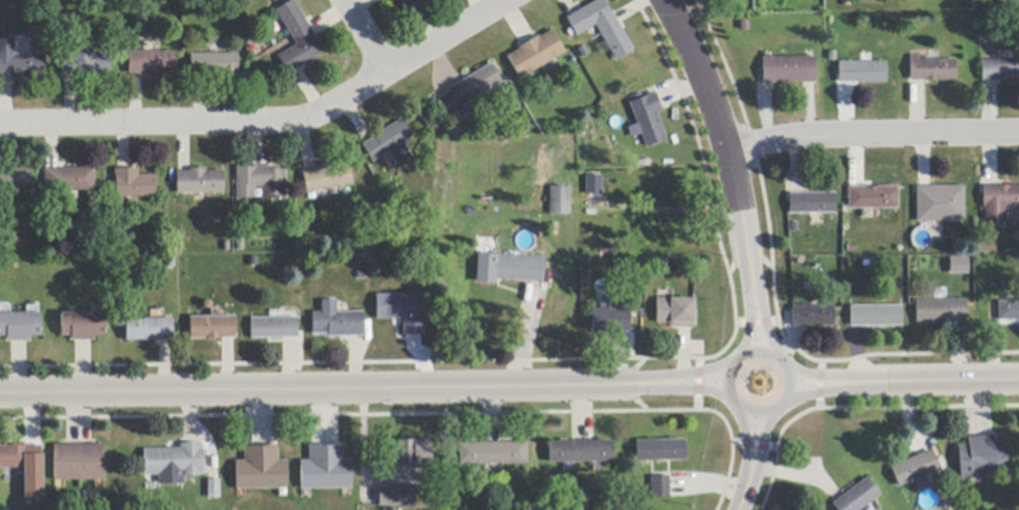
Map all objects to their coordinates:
building: (408, 2)
building: (600, 27)
road: (368, 35)
building: (297, 38)
building: (535, 54)
building: (19, 62)
building: (153, 63)
building: (85, 64)
building: (214, 64)
building: (931, 69)
building: (788, 70)
building: (1000, 70)
building: (861, 73)
building: (472, 91)
building: (648, 119)
road: (270, 121)
road: (872, 134)
road: (724, 142)
building: (391, 143)
building: (326, 178)
building: (15, 180)
building: (69, 180)
building: (200, 182)
building: (260, 182)
building: (591, 183)
building: (135, 184)
building: (872, 198)
building: (559, 201)
building: (942, 202)
building: (812, 203)
building: (998, 203)
building: (988, 245)
building: (957, 264)
building: (106, 269)
building: (508, 269)
building: (402, 310)
building: (940, 311)
building: (1008, 311)
building: (675, 312)
building: (813, 316)
building: (876, 316)
building: (609, 320)
building: (337, 322)
road: (752, 325)
road: (764, 325)
building: (20, 326)
building: (83, 326)
building: (213, 328)
building: (274, 328)
building: (149, 330)
road: (758, 350)
road: (700, 374)
road: (817, 377)
road: (933, 381)
road: (331, 385)
road: (698, 385)
road: (814, 390)
road: (748, 434)
road: (763, 435)
building: (660, 450)
building: (580, 452)
building: (409, 453)
building: (492, 453)
building: (20, 456)
building: (981, 457)
building: (175, 462)
building: (79, 463)
building: (260, 469)
building: (325, 469)
building: (914, 469)
building: (660, 487)
road: (745, 488)
building: (214, 489)
building: (396, 497)
building: (858, 497)

